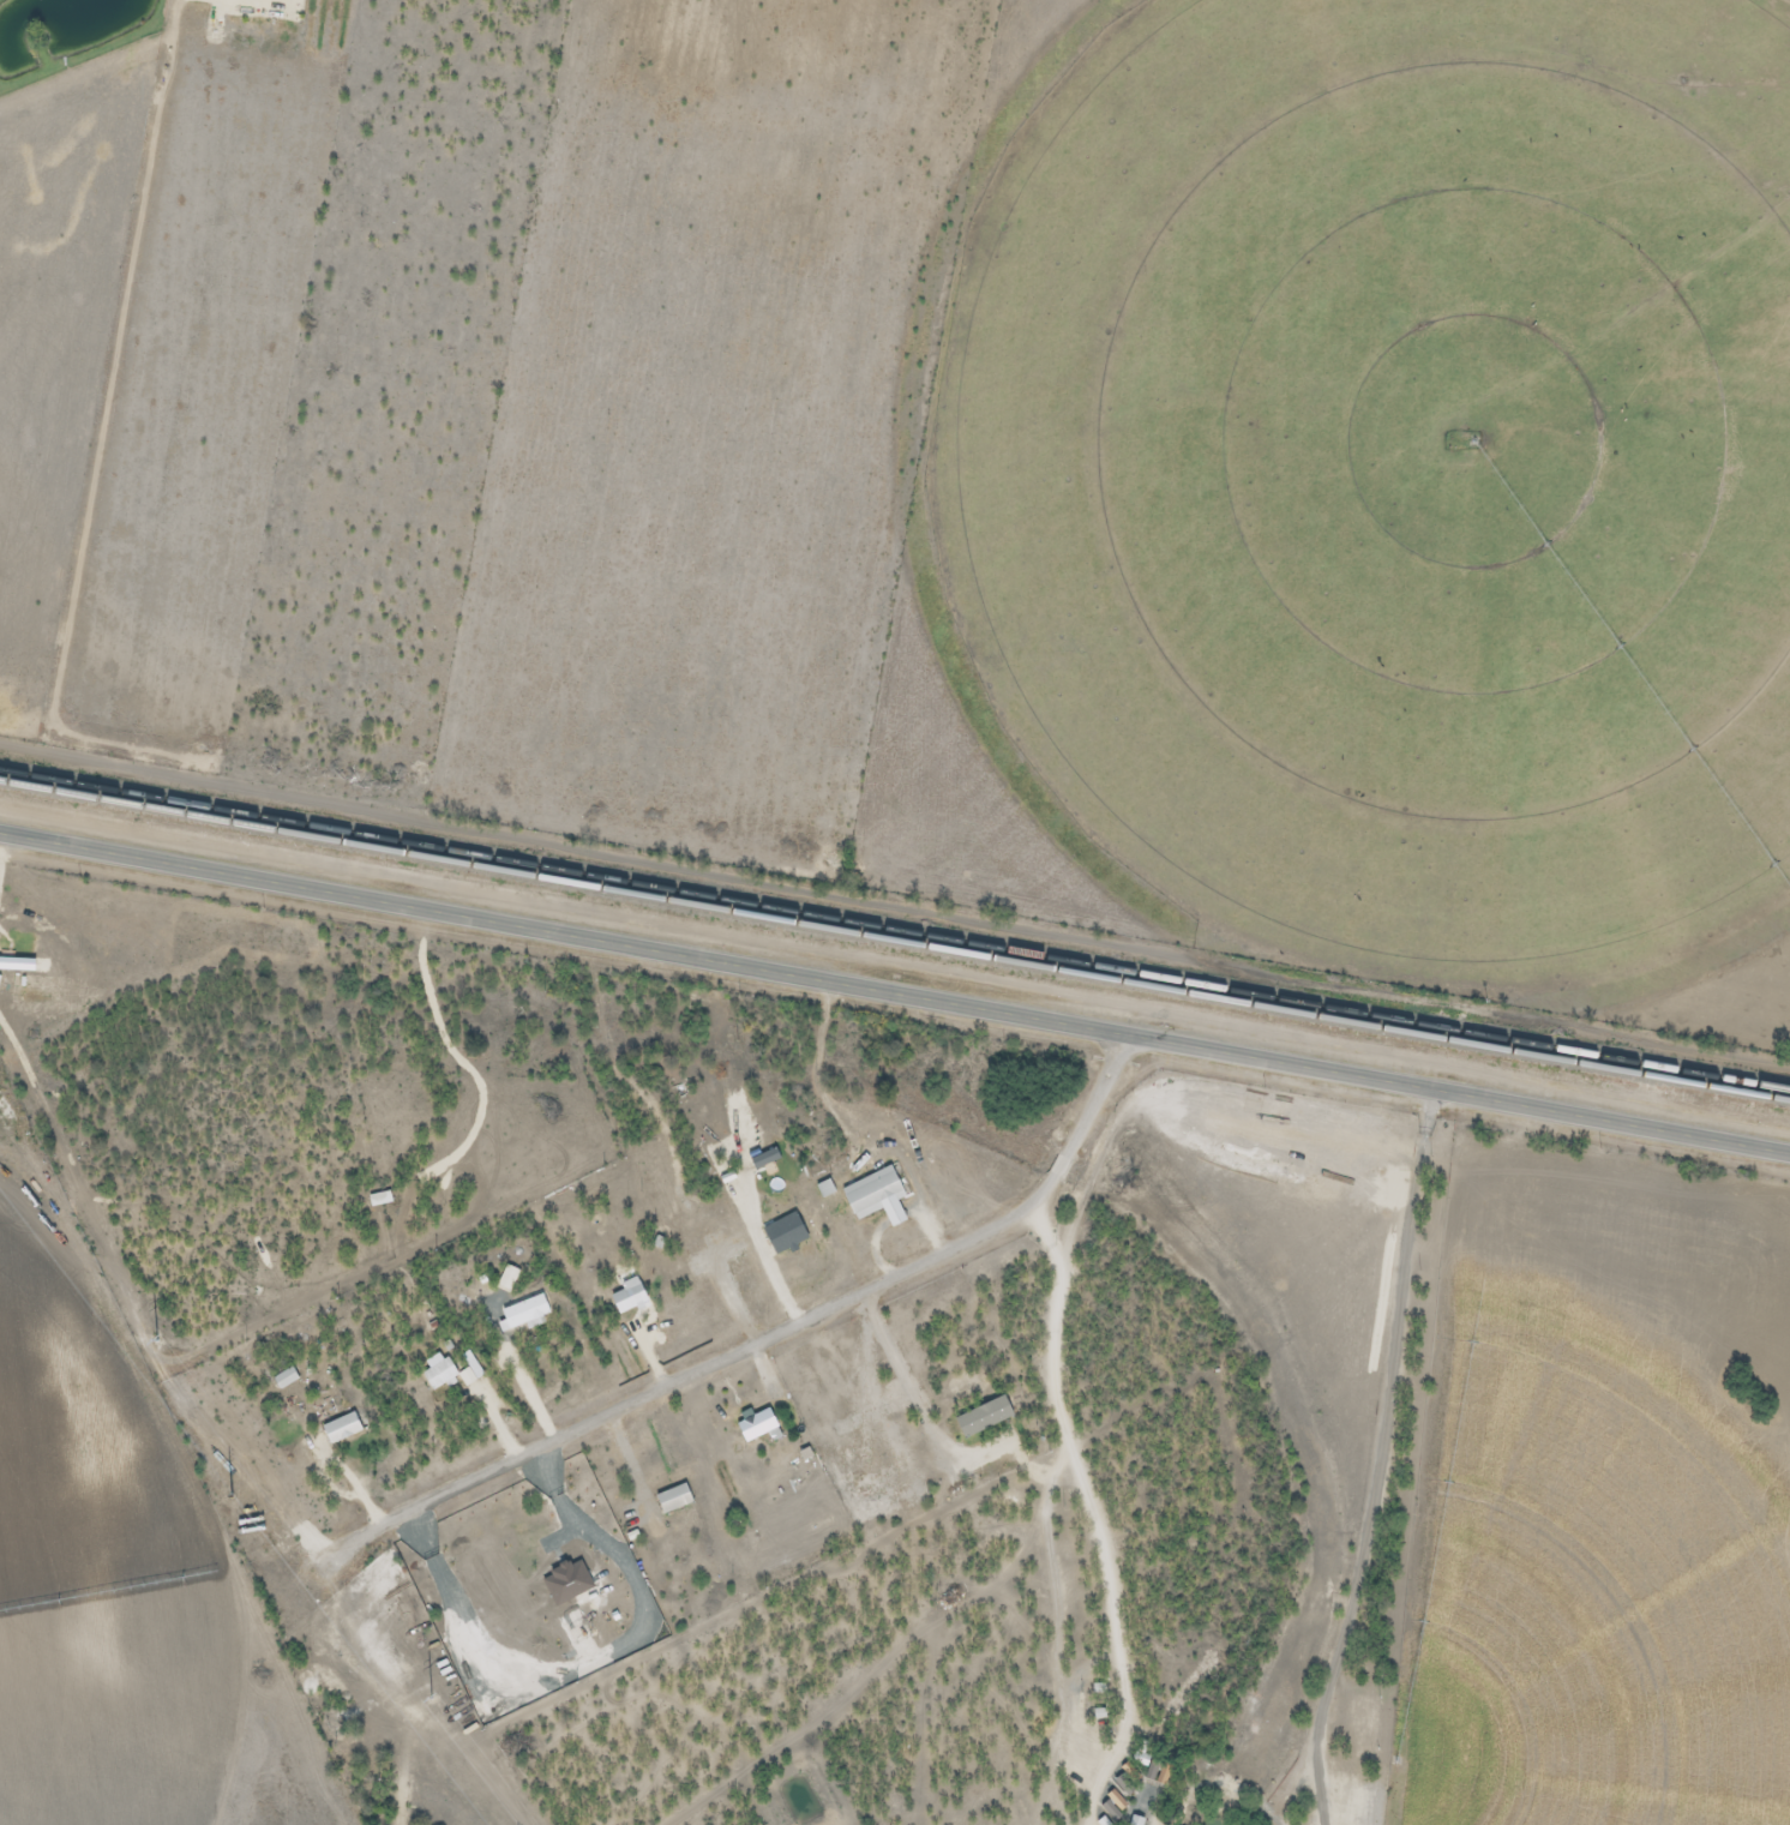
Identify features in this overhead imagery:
railway: (895, 926)
railway: (895, 939)
road: (895, 989)
building: (876, 1195)
building: (379, 1199)
building: (507, 1278)
building: (627, 1296)
building: (527, 1310)
road: (771, 1334)
power tower: (160, 1347)
building: (439, 1375)
building: (284, 1377)
building: (756, 1425)
building: (341, 1428)
power tower: (233, 1491)
power tower: (421, 1688)

